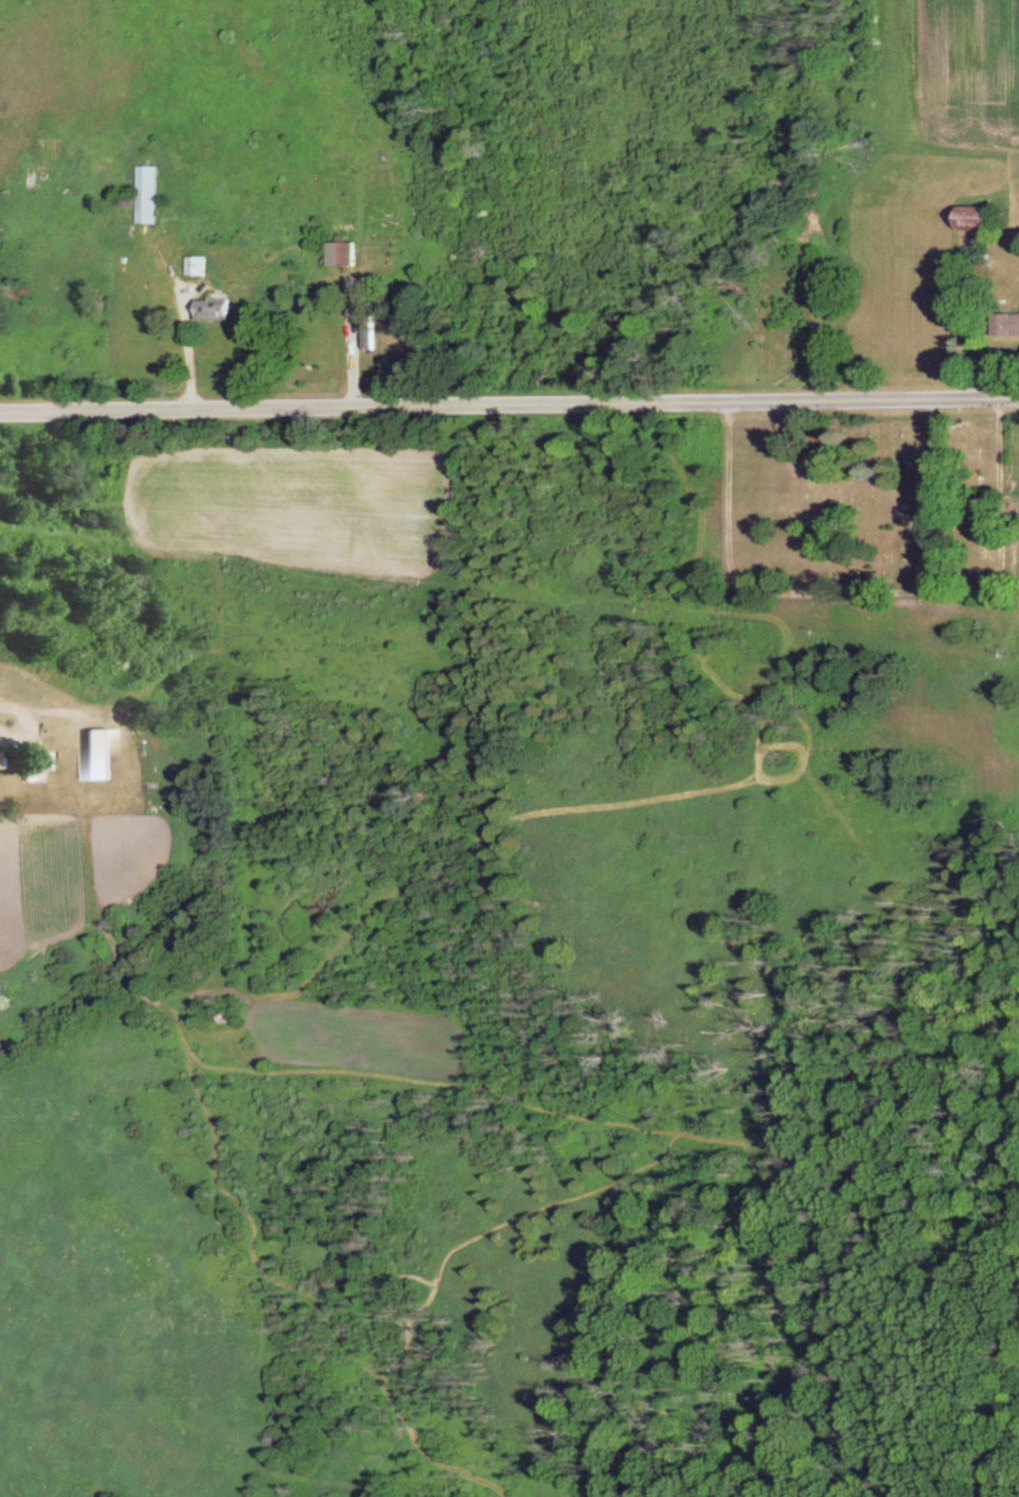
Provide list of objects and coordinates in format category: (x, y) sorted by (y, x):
building: (36, 183)
building: (150, 198)
building: (980, 222)
building: (345, 257)
building: (200, 269)
building: (216, 313)
building: (1007, 328)
building: (372, 330)
road: (509, 405)
park: (869, 508)
building: (99, 757)
building: (34, 766)

